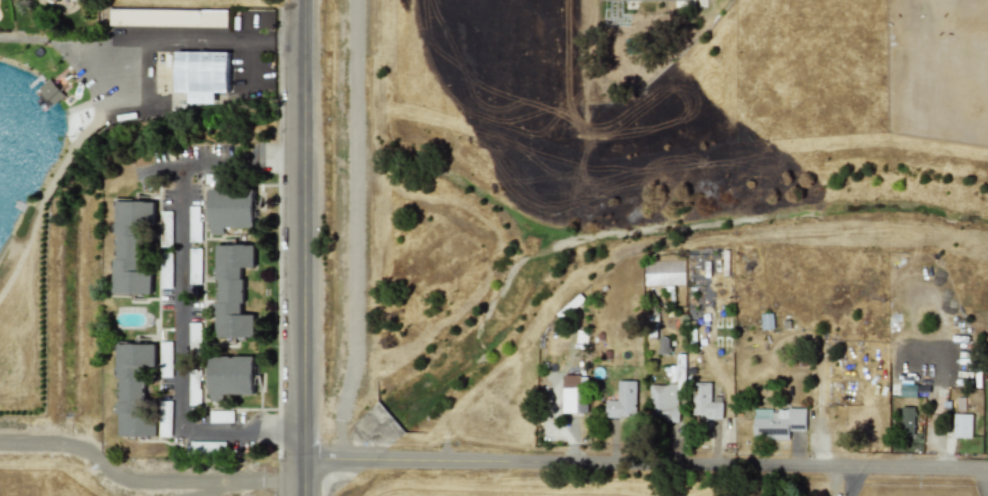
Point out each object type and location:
building: (56, 0)
building: (678, 0)
building: (168, 17)
road: (275, 40)
road: (125, 45)
road: (248, 54)
building: (202, 74)
building: (51, 90)
road: (241, 160)
building: (229, 208)
road: (356, 230)
building: (131, 247)
road: (301, 248)
building: (232, 290)
road: (182, 298)
building: (230, 375)
building: (133, 389)
building: (907, 390)
building: (574, 394)
building: (622, 400)
building: (705, 401)
building: (907, 419)
building: (776, 422)
building: (962, 425)
road: (242, 429)
road: (644, 462)
road: (125, 478)
road: (846, 480)
road: (983, 481)
road: (281, 483)

